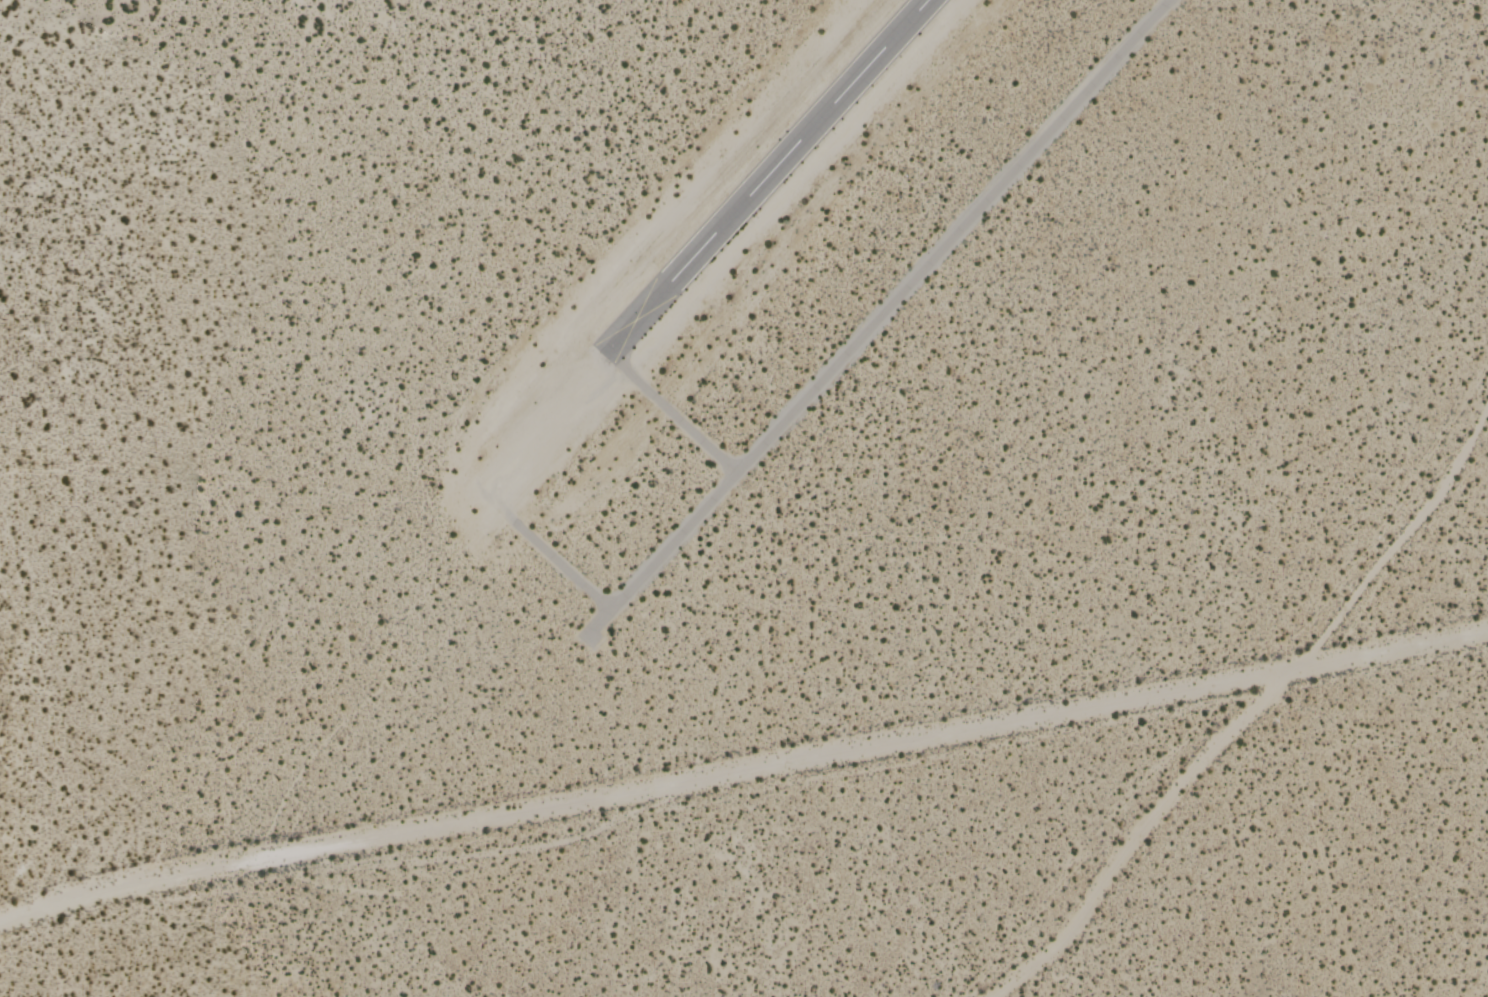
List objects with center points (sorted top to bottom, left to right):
airport runway: (764, 177)
road: (876, 319)
airport: (744, 498)

